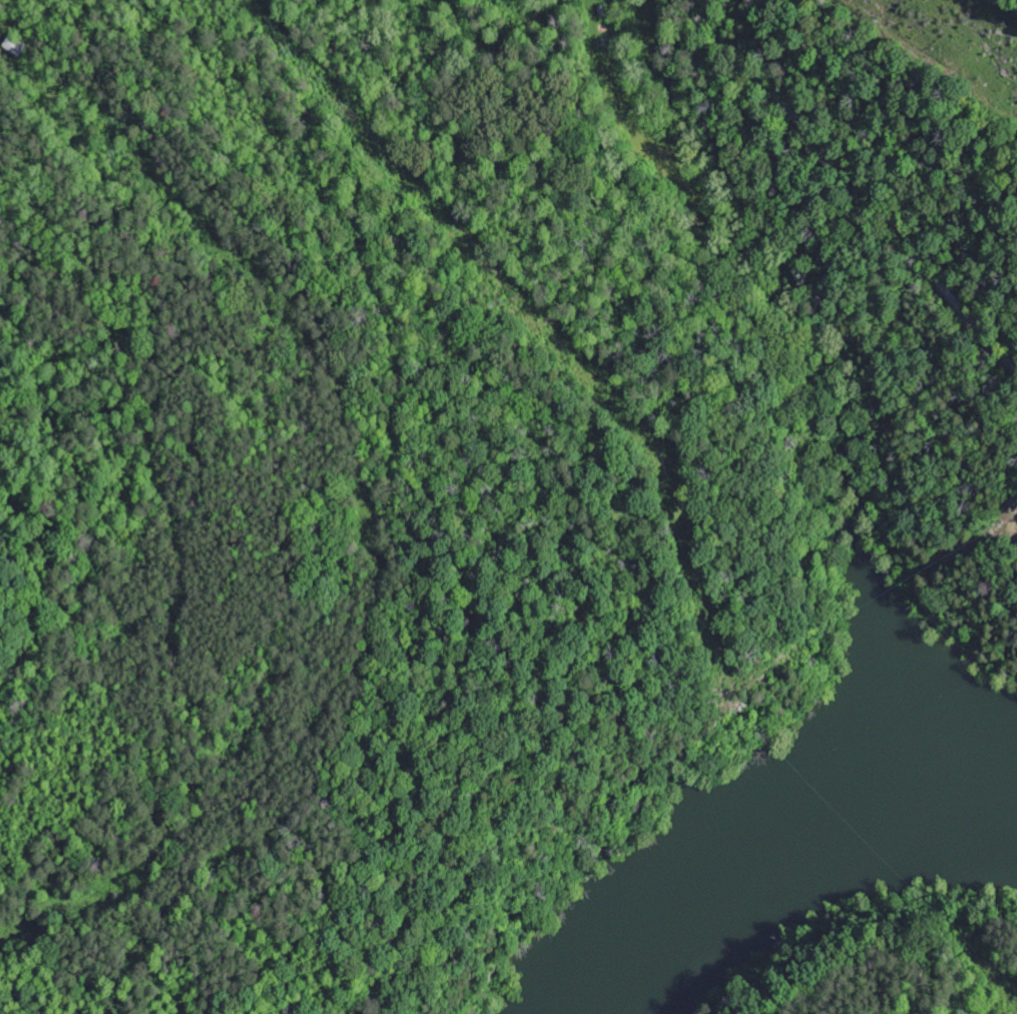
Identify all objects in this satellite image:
road: (858, 179)
road: (775, 277)
river: (770, 850)

